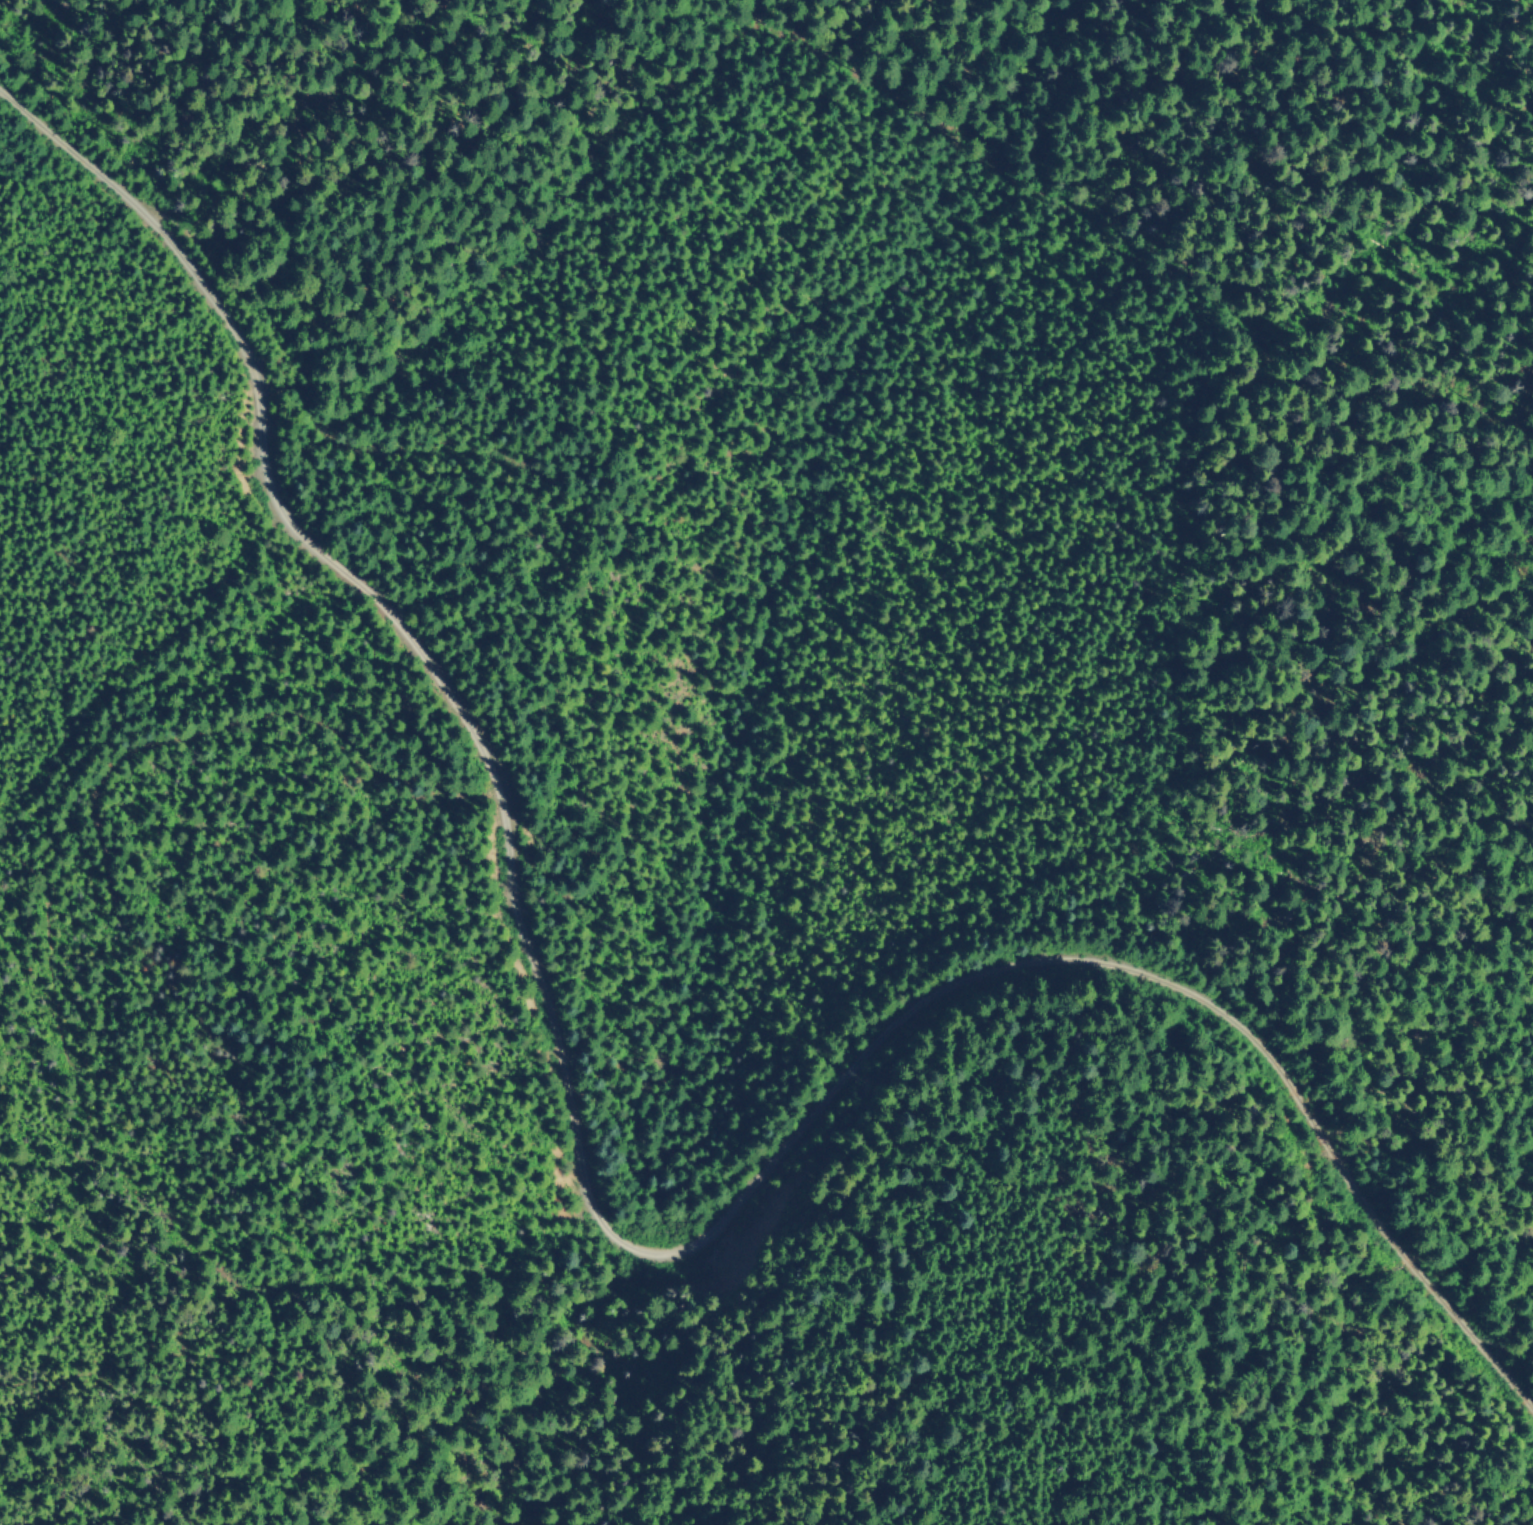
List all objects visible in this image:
road: (580, 1196)

